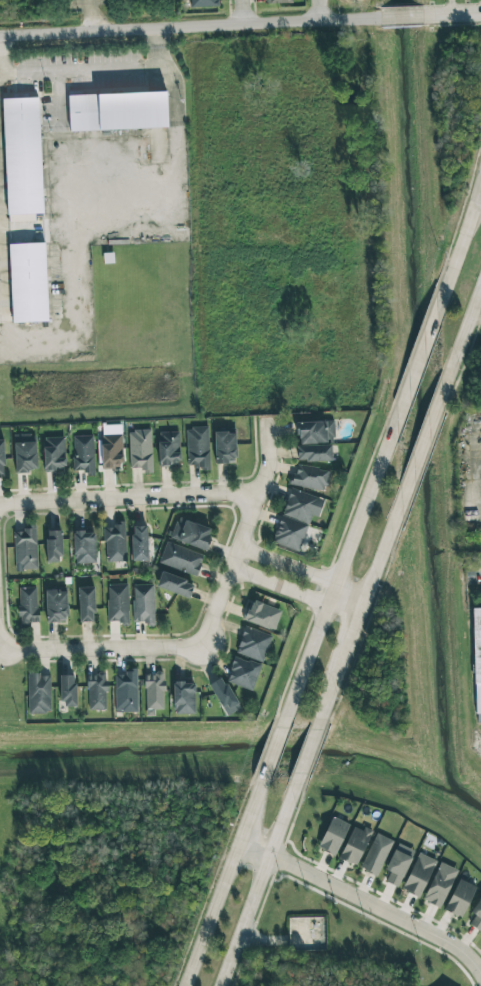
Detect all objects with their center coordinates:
building: (278, 1)
building: (202, 3)
road: (316, 10)
road: (240, 12)
road: (450, 15)
road: (86, 16)
road: (400, 17)
road: (189, 27)
road: (156, 46)
road: (80, 68)
building: (117, 111)
road: (58, 130)
building: (22, 156)
road: (68, 195)
road: (478, 198)
road: (459, 241)
building: (28, 282)
road: (461, 335)
road: (416, 364)
building: (315, 432)
road: (422, 444)
building: (111, 447)
building: (197, 447)
building: (224, 448)
building: (168, 449)
building: (140, 450)
building: (24, 453)
building: (313, 453)
building: (54, 454)
building: (83, 454)
building: (1, 457)
building: (310, 477)
road: (128, 501)
building: (296, 518)
building: (191, 533)
building: (114, 542)
building: (139, 543)
building: (53, 546)
building: (84, 548)
building: (25, 549)
building: (181, 559)
road: (287, 566)
road: (341, 567)
building: (174, 585)
road: (281, 589)
road: (346, 598)
building: (117, 603)
building: (85, 604)
building: (143, 604)
building: (27, 605)
building: (56, 605)
road: (357, 608)
building: (262, 615)
road: (206, 630)
building: (253, 644)
building: (477, 662)
building: (242, 673)
building: (67, 690)
building: (125, 691)
building: (154, 691)
building: (96, 692)
building: (38, 693)
building: (224, 696)
building: (183, 698)
road: (272, 750)
road: (306, 752)
building: (333, 836)
road: (253, 844)
building: (355, 845)
building: (376, 854)
building: (397, 867)
building: (418, 875)
road: (219, 884)
road: (256, 885)
building: (439, 885)
building: (459, 898)
road: (377, 909)
building: (477, 916)
road: (476, 955)

